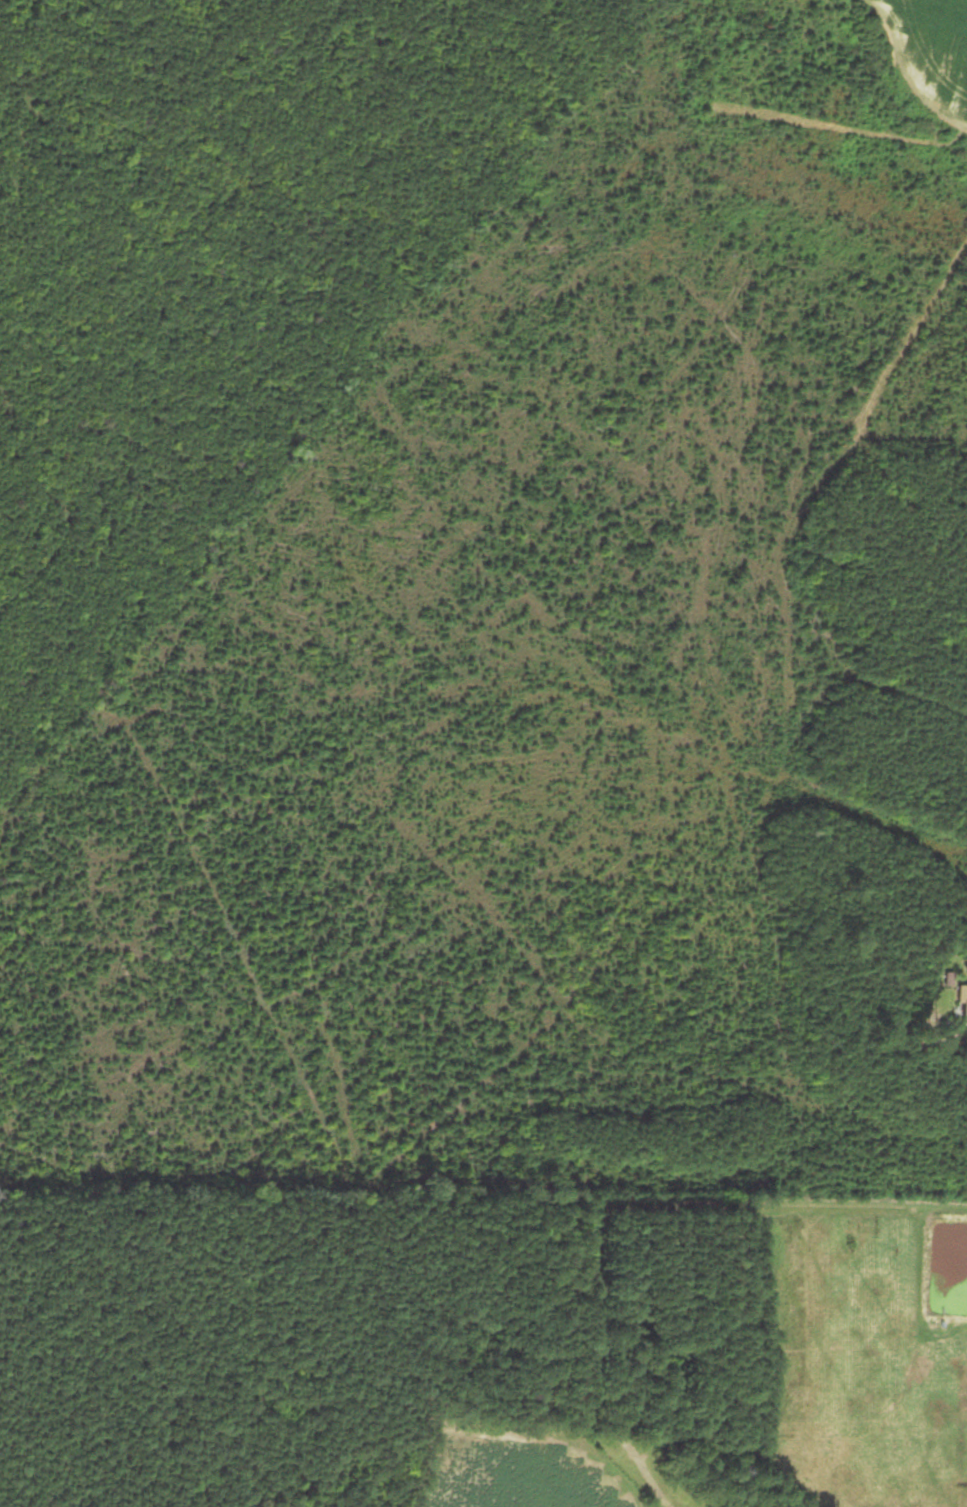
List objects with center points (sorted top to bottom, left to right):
building: (963, 1009)

